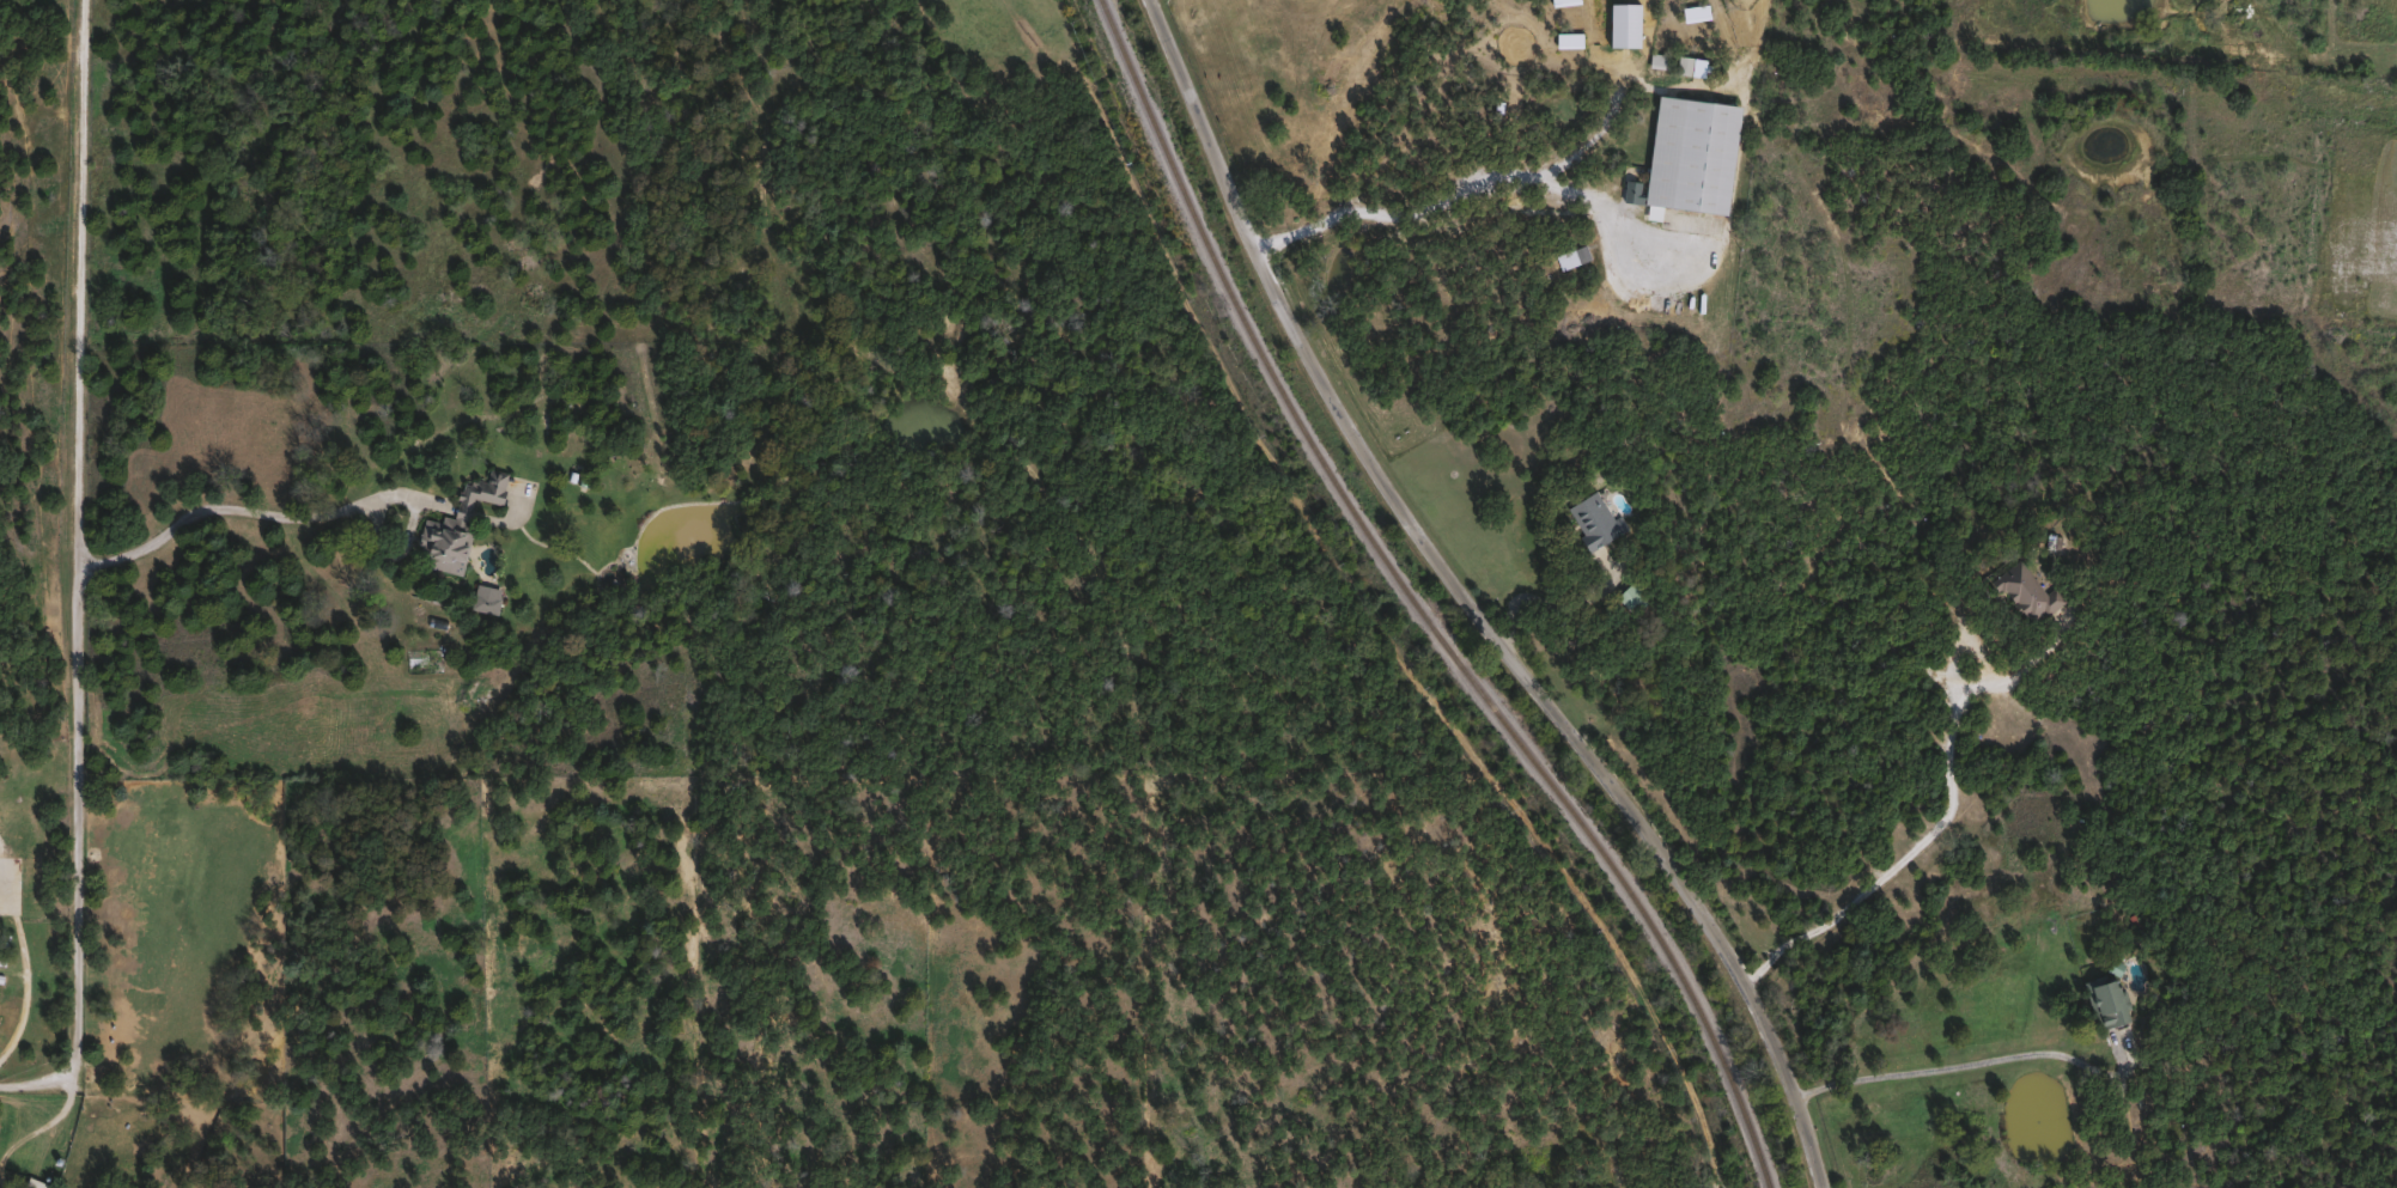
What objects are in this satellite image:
building: (1655, 59)
building: (1684, 63)
building: (1689, 153)
road: (1478, 178)
road: (241, 511)
building: (1593, 519)
building: (456, 520)
road: (77, 574)
building: (2025, 592)
building: (1629, 597)
building: (482, 598)
road: (1479, 601)
railway: (1416, 605)
road: (1934, 831)
building: (2101, 1000)
road: (1957, 1061)
building: (34, 1183)

